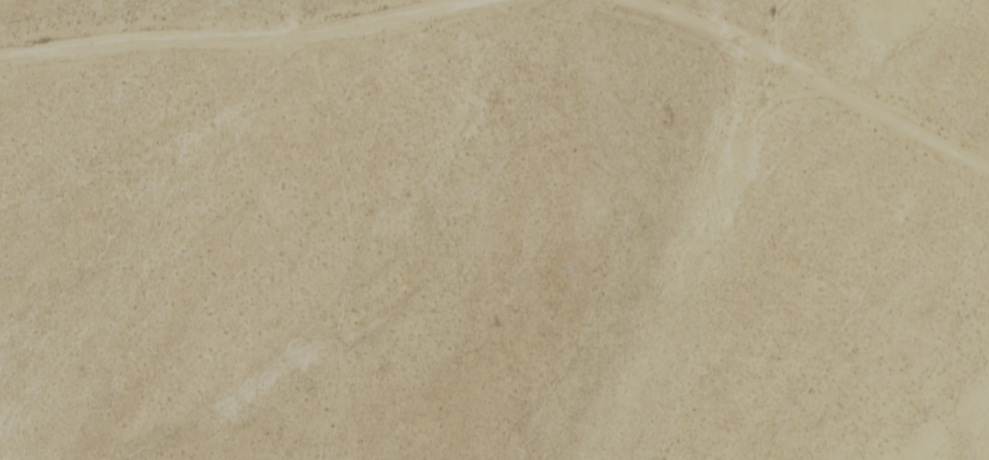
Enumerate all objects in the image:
road: (268, 45)
road: (816, 92)
road: (369, 225)

